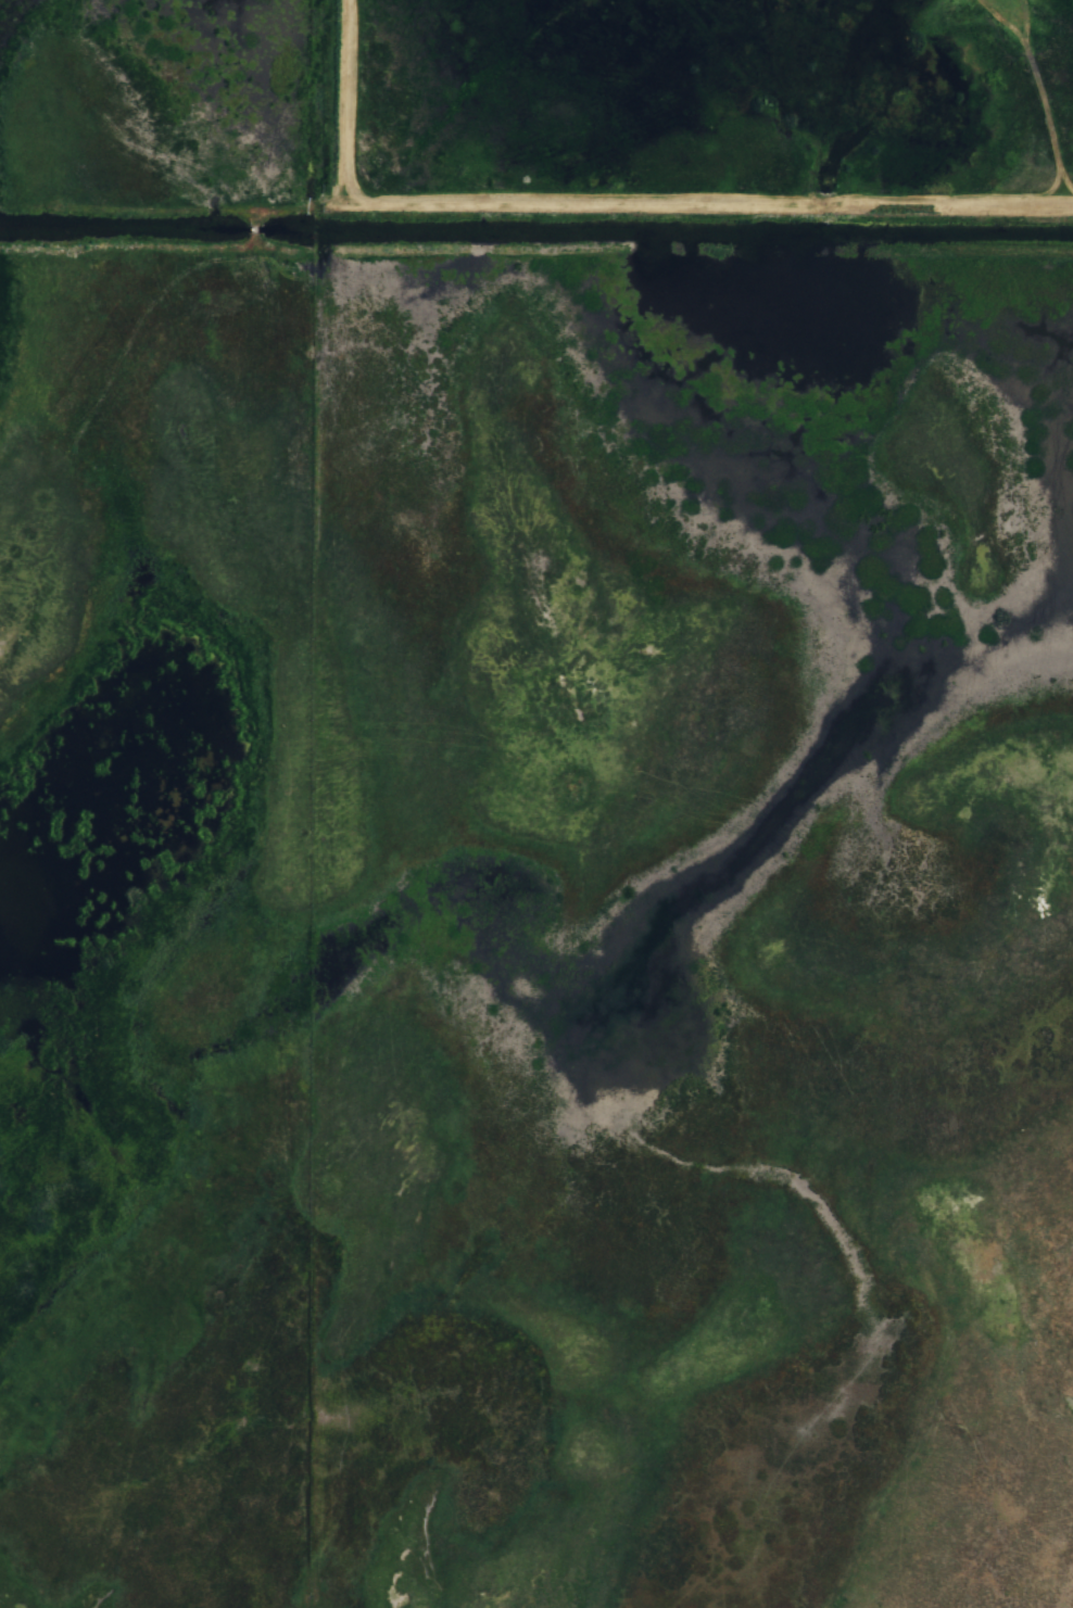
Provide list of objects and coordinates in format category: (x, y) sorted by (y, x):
crop: (1011, 736)
crop: (1069, 742)
crop: (821, 806)
crop: (86, 939)

